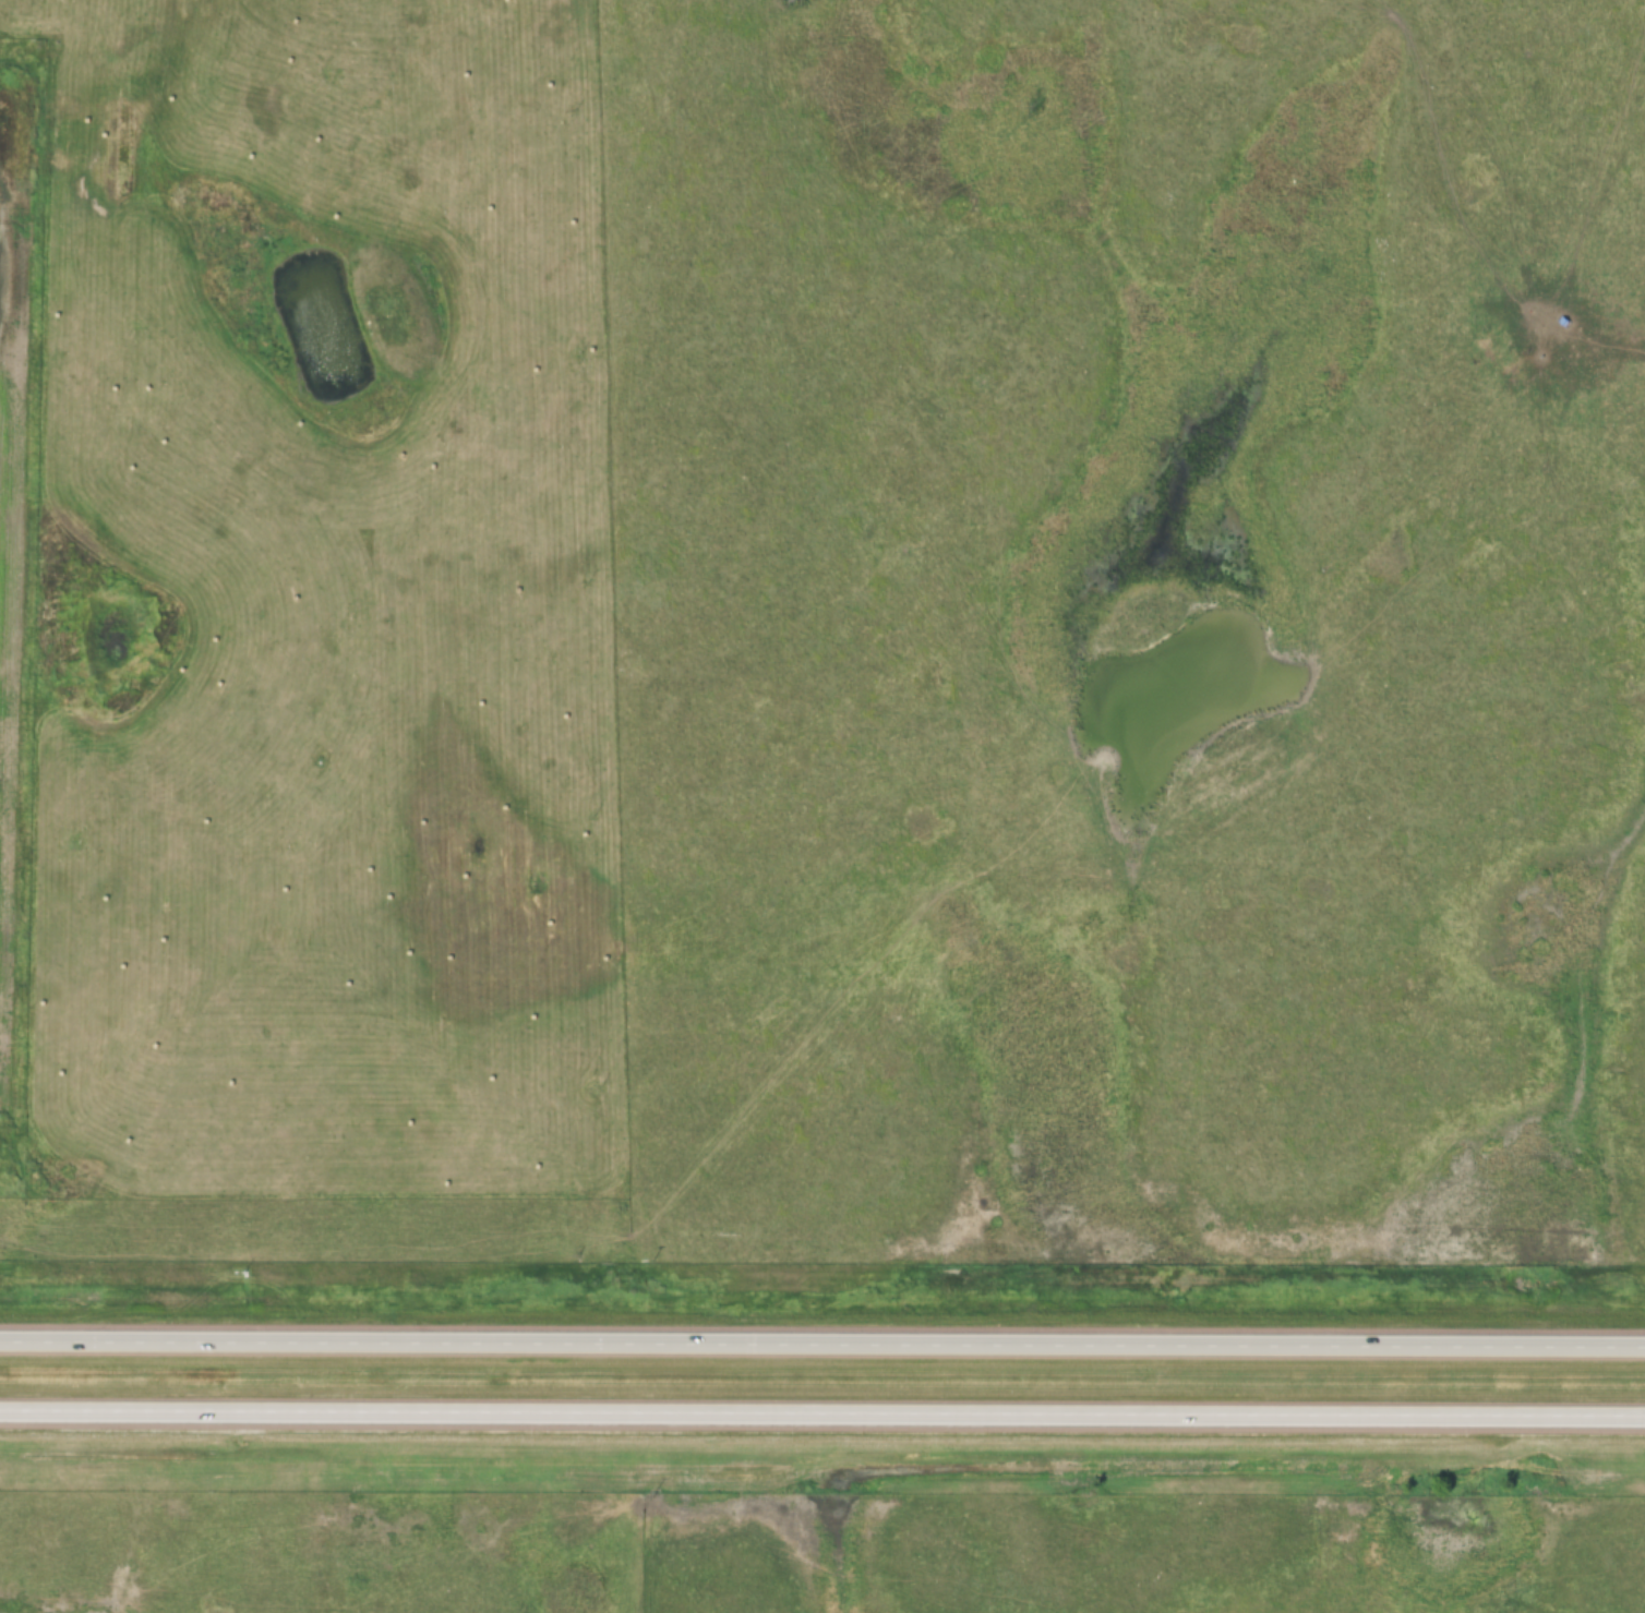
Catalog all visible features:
road: (822, 1347)
road: (822, 1420)

